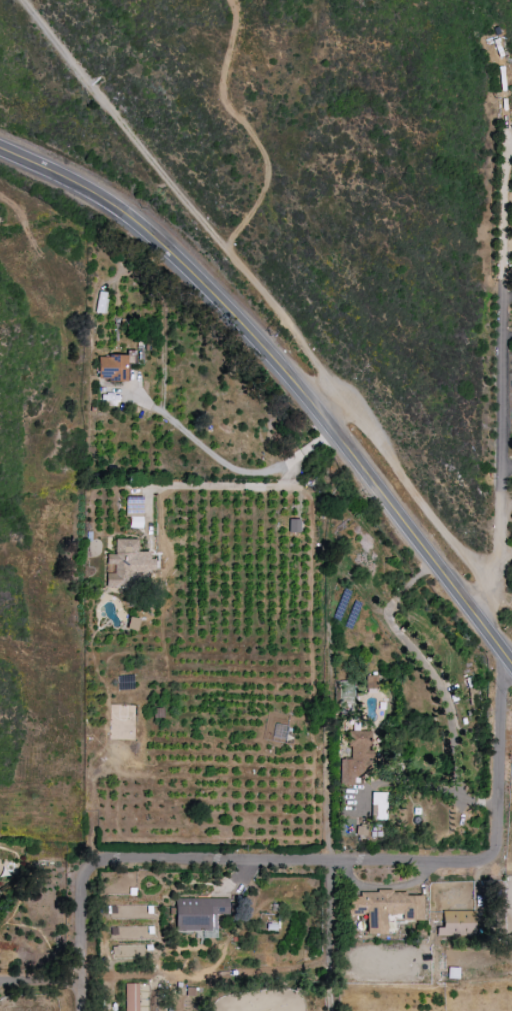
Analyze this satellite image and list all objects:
road: (246, 127)
road: (29, 163)
road: (503, 184)
road: (192, 208)
road: (507, 295)
building: (100, 302)
road: (506, 335)
building: (113, 366)
road: (305, 400)
road: (501, 446)
road: (506, 461)
road: (230, 466)
road: (416, 494)
road: (506, 501)
building: (293, 526)
road: (504, 548)
building: (130, 562)
road: (501, 602)
building: (131, 624)
road: (21, 652)
building: (371, 682)
building: (356, 756)
building: (377, 806)
building: (360, 830)
road: (315, 857)
building: (384, 908)
building: (198, 913)
building: (456, 923)
road: (328, 934)
road: (43, 980)
building: (130, 997)

